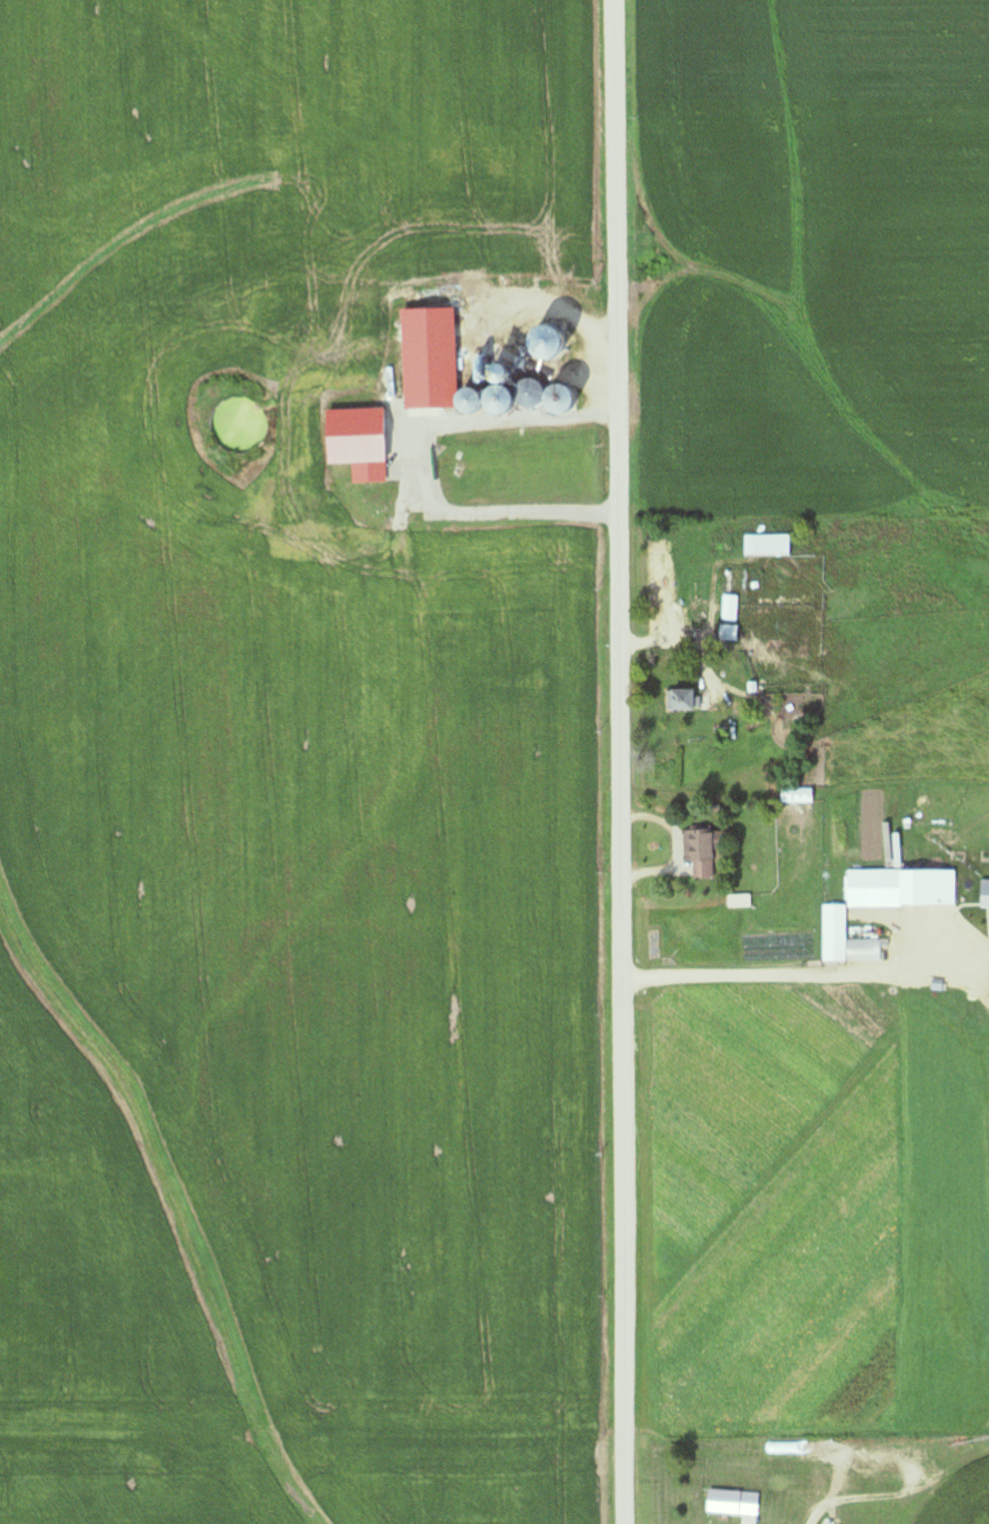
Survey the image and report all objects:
building: (405, 356)
building: (520, 362)
building: (498, 373)
building: (474, 375)
building: (532, 395)
building: (501, 400)
building: (562, 401)
building: (472, 402)
road: (292, 433)
building: (354, 435)
road: (411, 460)
building: (478, 483)
building: (767, 546)
building: (730, 608)
building: (729, 633)
road: (689, 642)
building: (684, 701)
road: (620, 761)
building: (797, 795)
building: (702, 850)
building: (739, 901)
building: (887, 1461)
road: (869, 1496)
building: (732, 1502)
road: (747, 1523)

